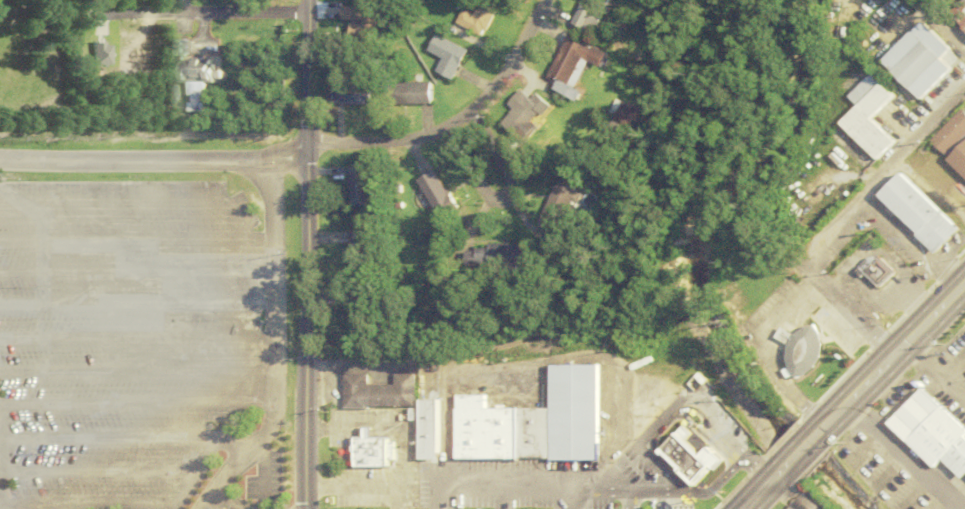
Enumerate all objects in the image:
road: (216, 11)
building: (597, 14)
building: (484, 17)
road: (939, 25)
building: (365, 26)
building: (963, 26)
building: (454, 56)
building: (916, 64)
building: (581, 65)
road: (310, 72)
building: (198, 75)
building: (415, 93)
building: (358, 95)
building: (872, 96)
building: (527, 119)
road: (458, 121)
building: (870, 132)
building: (951, 140)
road: (155, 162)
road: (884, 165)
road: (282, 168)
building: (362, 186)
building: (440, 194)
road: (505, 197)
road: (129, 201)
building: (564, 207)
building: (922, 212)
road: (135, 237)
building: (496, 257)
river: (708, 270)
building: (881, 270)
road: (847, 304)
building: (355, 325)
road: (305, 326)
parking lot: (122, 333)
road: (270, 333)
road: (135, 336)
building: (805, 348)
road: (891, 358)
road: (936, 371)
building: (378, 391)
building: (576, 410)
building: (430, 429)
building: (502, 429)
building: (935, 430)
road: (102, 436)
building: (372, 450)
road: (802, 451)
road: (199, 452)
building: (720, 454)
road: (904, 456)
building: (690, 459)
road: (0, 478)
parking lot: (265, 479)
road: (765, 488)
road: (204, 496)
road: (226, 500)
road: (197, 507)
road: (202, 507)

